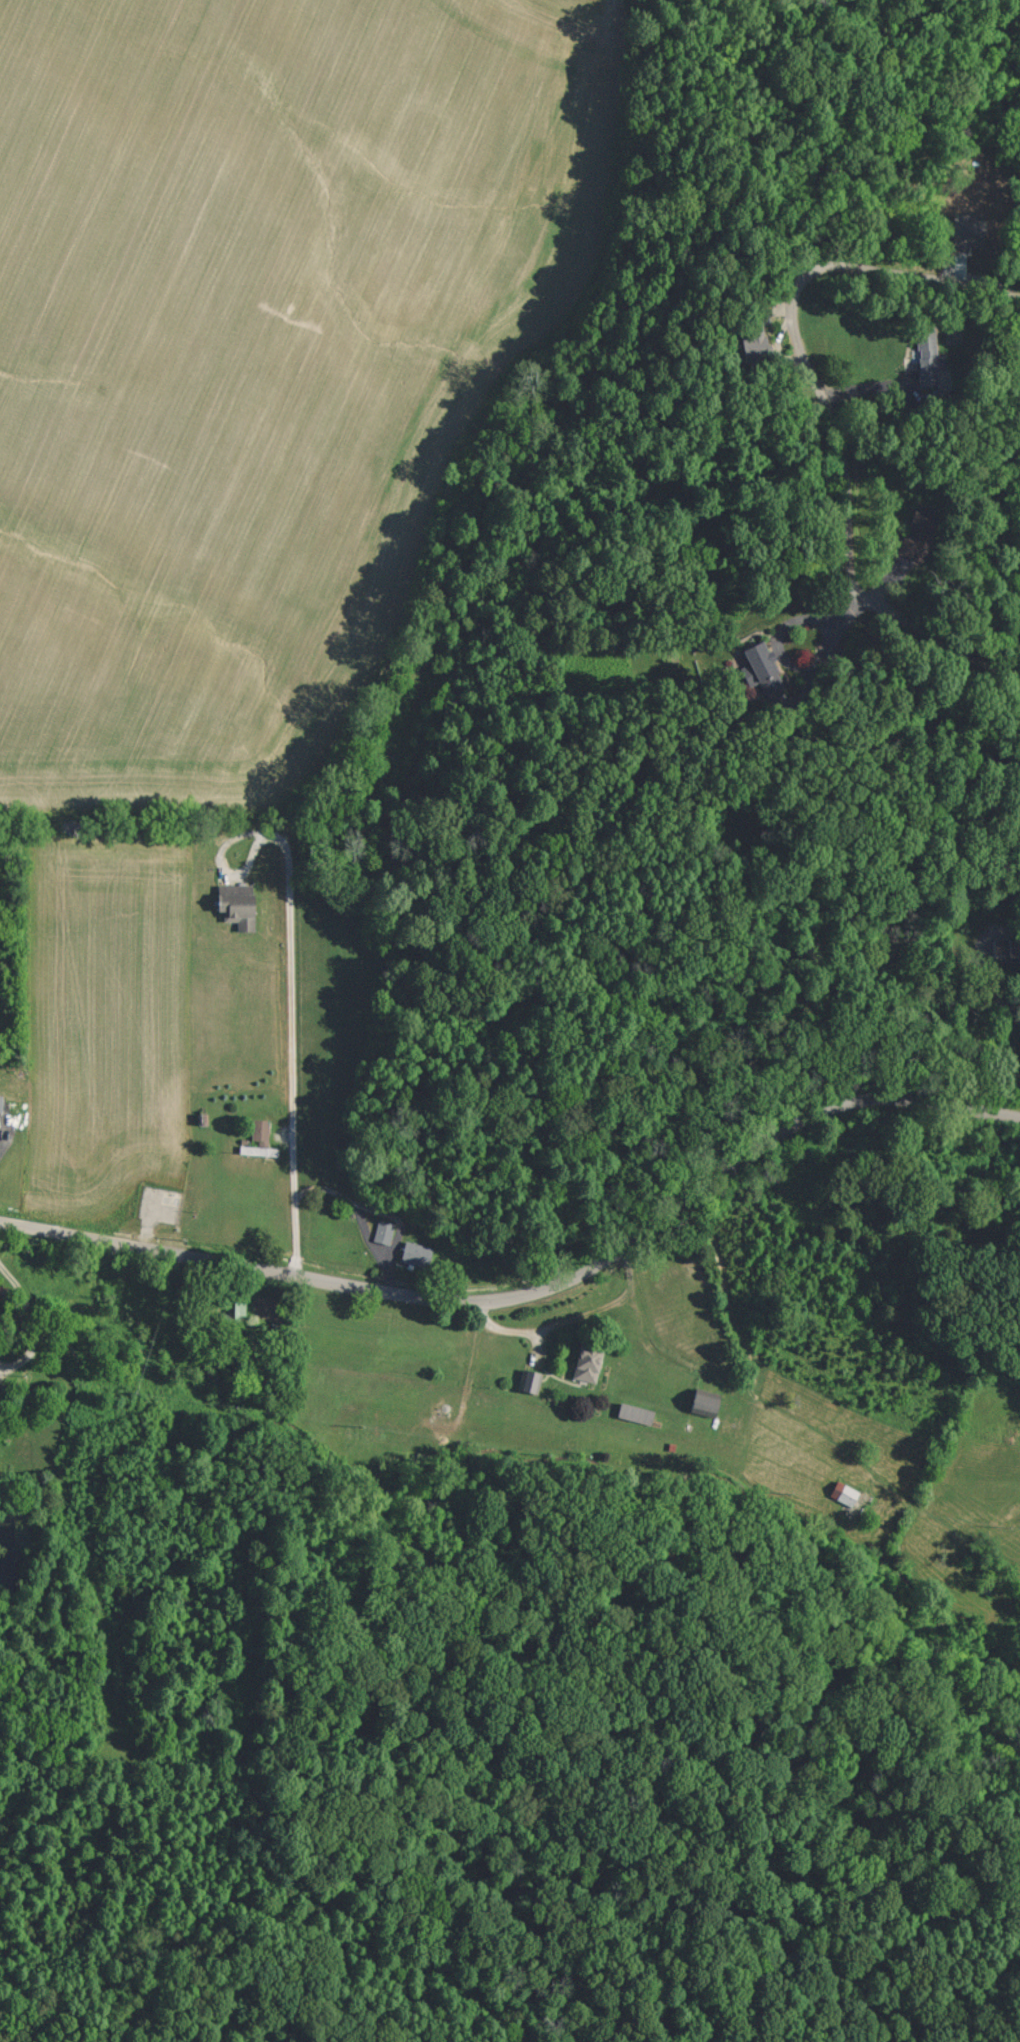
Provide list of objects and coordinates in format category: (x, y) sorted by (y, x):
building: (969, 231)
building: (755, 345)
building: (929, 361)
road: (824, 410)
building: (920, 532)
road: (407, 624)
building: (761, 669)
building: (237, 905)
building: (1006, 948)
road: (992, 992)
building: (8, 1101)
building: (259, 1139)
building: (383, 1231)
building: (416, 1253)
road: (537, 1291)
building: (236, 1306)
road: (30, 1321)
building: (587, 1363)
building: (531, 1380)
building: (705, 1402)
building: (635, 1413)
building: (844, 1493)

